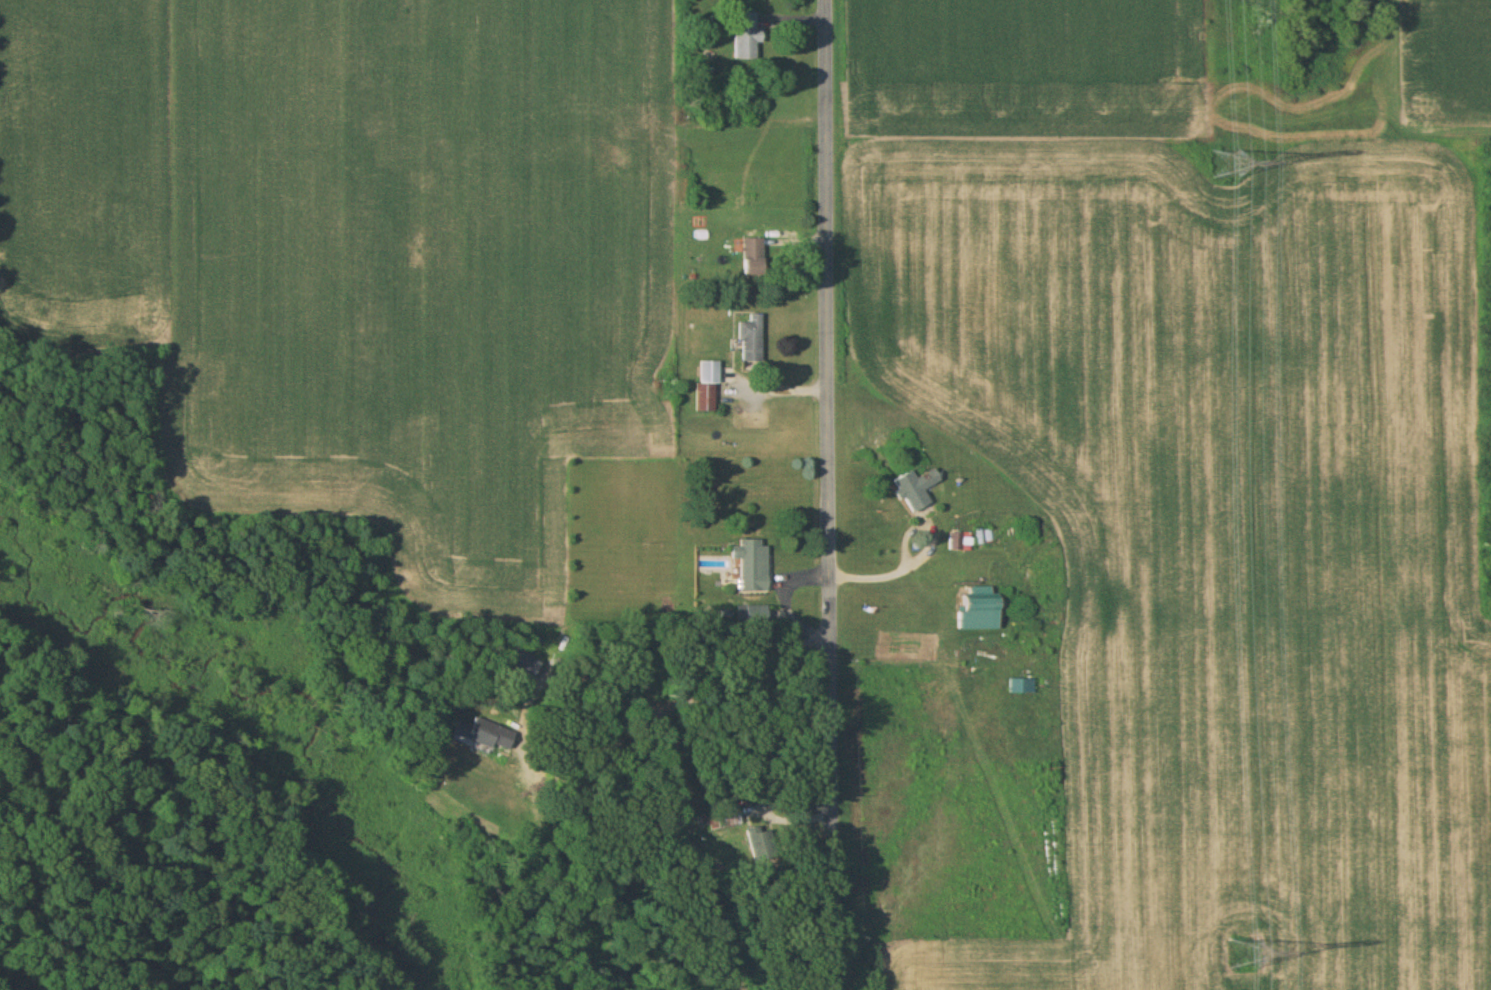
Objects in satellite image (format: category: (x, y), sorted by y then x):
building: (743, 37)
power tower: (1225, 161)
building: (751, 256)
building: (750, 341)
building: (706, 385)
building: (913, 489)
road: (829, 494)
building: (959, 542)
building: (748, 565)
building: (974, 610)
building: (749, 615)
building: (514, 664)
building: (471, 734)
building: (733, 816)
road: (757, 921)
power tower: (1246, 953)

